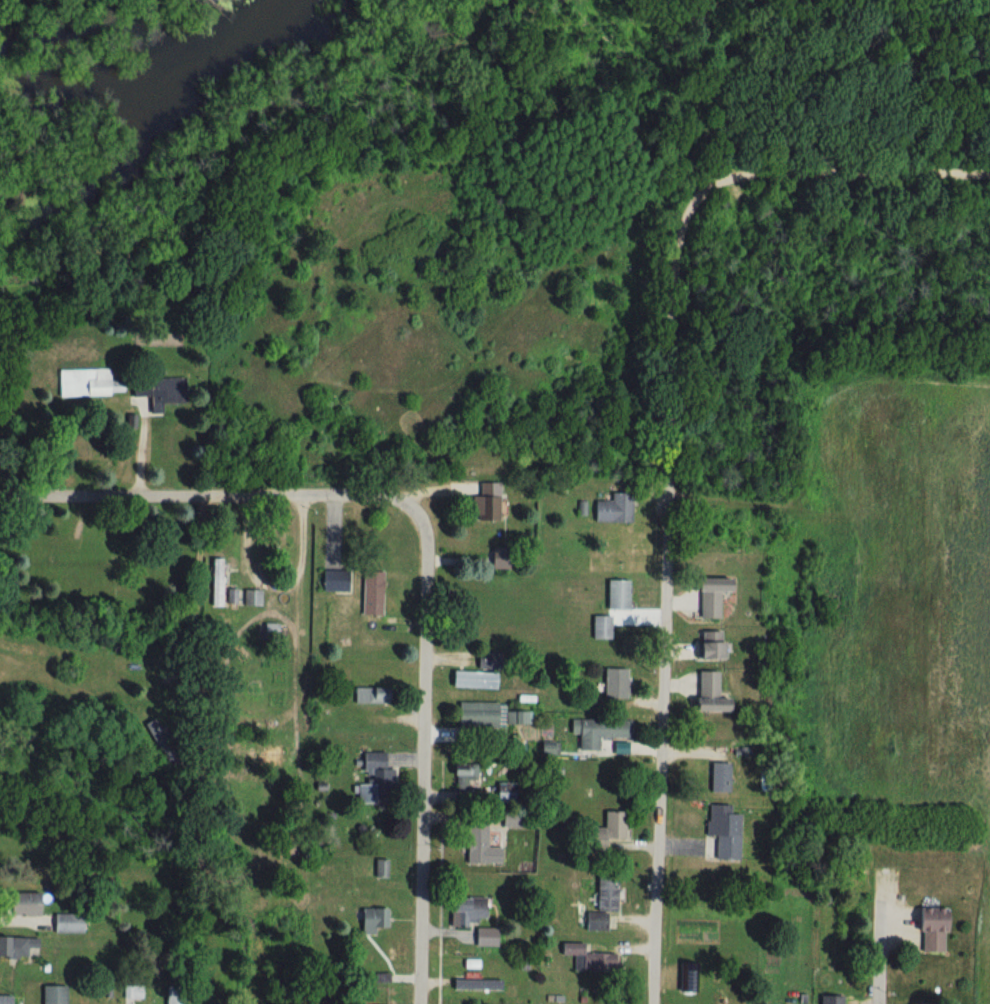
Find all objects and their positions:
river: (95, 84)
river: (150, 130)
road: (729, 165)
road: (802, 170)
building: (90, 383)
building: (158, 393)
road: (207, 495)
building: (486, 503)
building: (614, 509)
building: (498, 559)
building: (334, 583)
road: (309, 585)
building: (216, 591)
building: (617, 594)
building: (709, 594)
building: (369, 596)
building: (253, 598)
building: (601, 626)
road: (665, 636)
building: (708, 644)
building: (473, 679)
building: (614, 682)
building: (707, 693)
building: (377, 695)
building: (476, 714)
building: (598, 730)
building: (548, 748)
road: (426, 753)
building: (462, 775)
building: (374, 777)
building: (720, 777)
building: (505, 789)
building: (509, 819)
building: (607, 831)
building: (724, 831)
building: (479, 845)
building: (381, 868)
building: (606, 892)
building: (22, 903)
building: (466, 910)
building: (373, 918)
building: (596, 921)
building: (65, 922)
building: (931, 928)
building: (486, 936)
building: (15, 946)
road: (880, 950)
building: (589, 959)
building: (689, 977)
building: (476, 984)
building: (52, 994)
building: (10, 999)
building: (830, 999)
building: (924, 1003)

